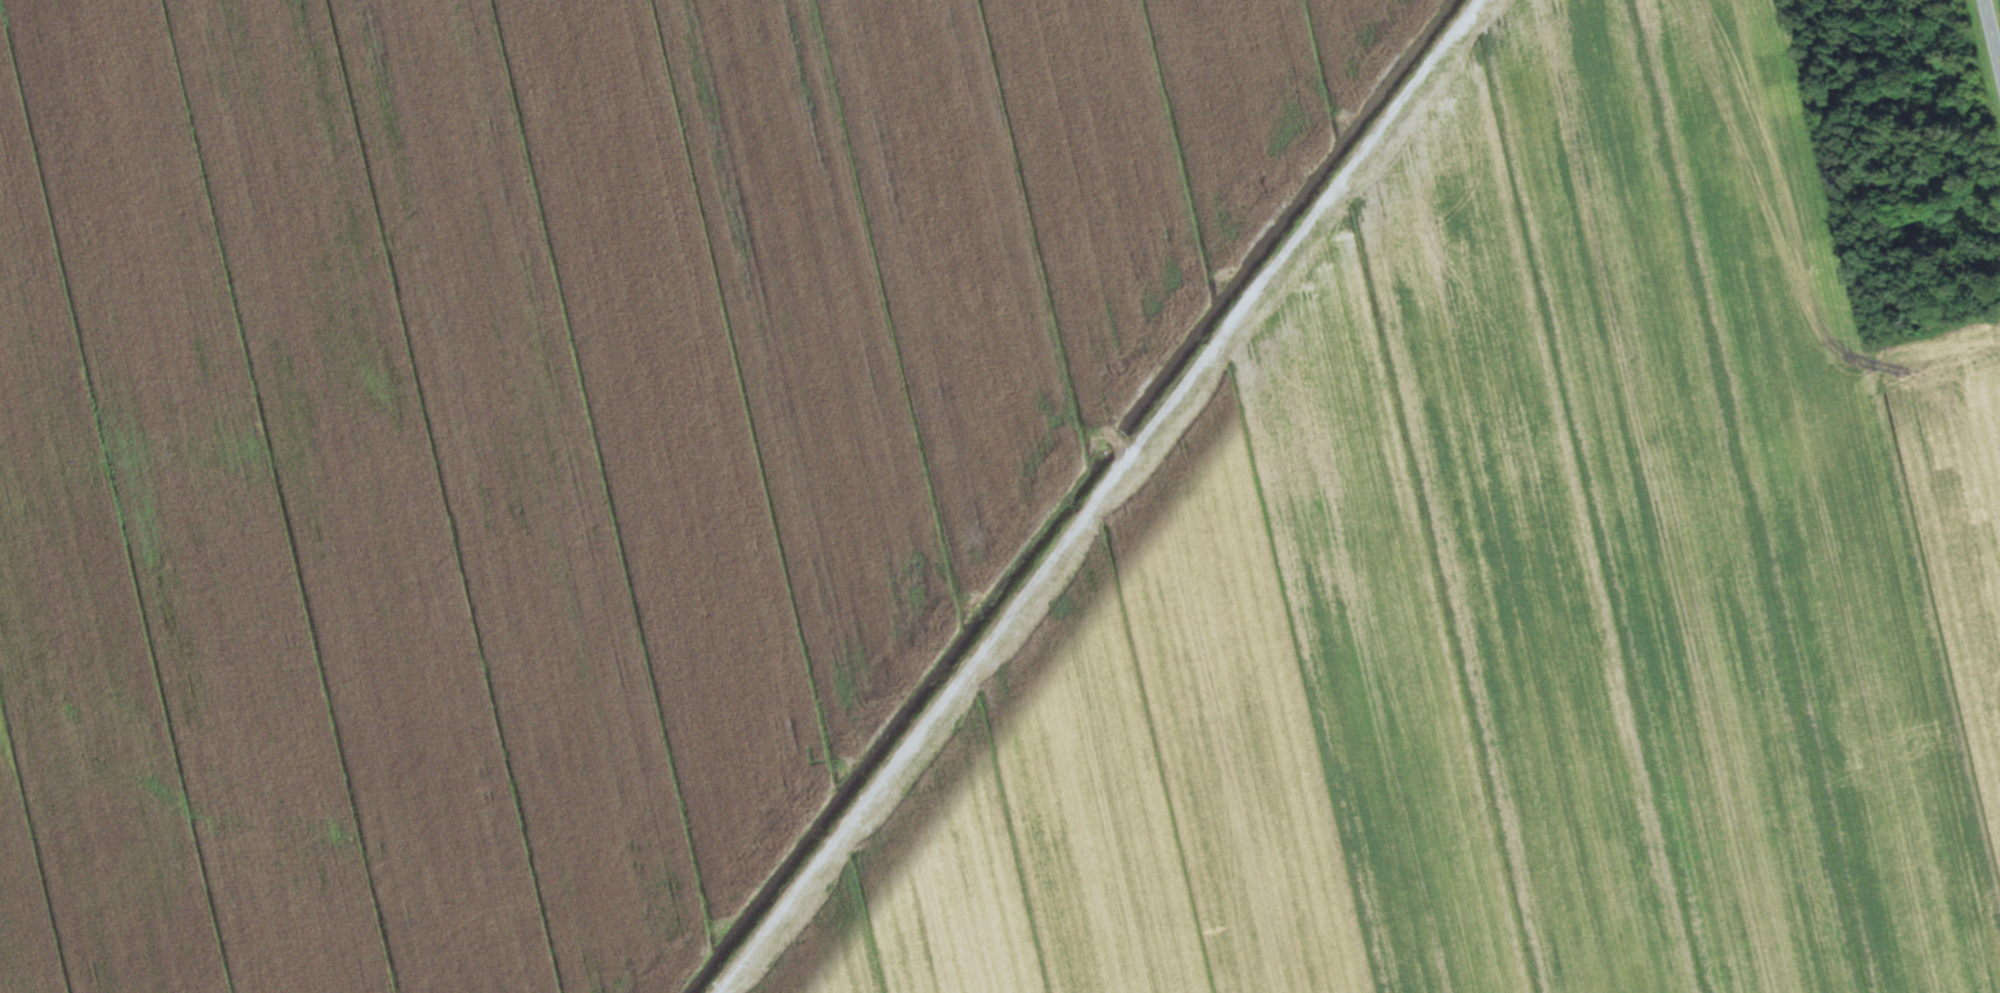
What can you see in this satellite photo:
road: (1989, 44)
crop: (551, 436)
road: (1094, 496)
crop: (1500, 592)

